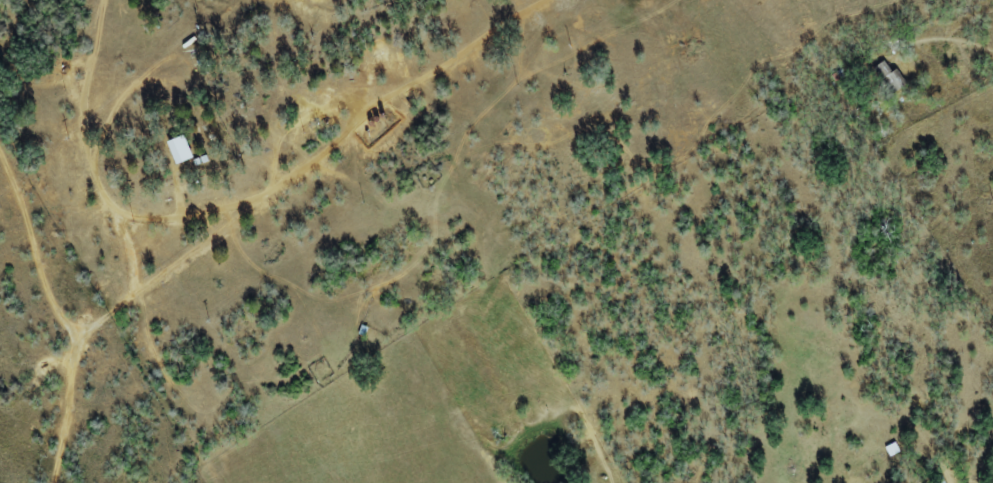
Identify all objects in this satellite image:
building: (889, 77)
road: (349, 127)
building: (178, 149)
building: (890, 449)

